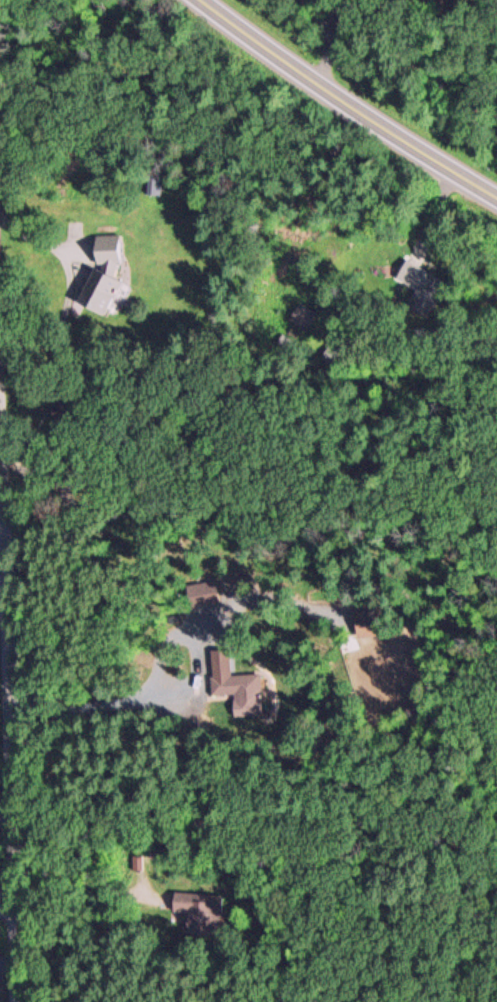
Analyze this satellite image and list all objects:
road: (353, 102)
building: (106, 250)
building: (419, 286)
building: (98, 290)
building: (200, 593)
building: (366, 622)
road: (7, 677)
building: (237, 689)
building: (199, 909)
road: (8, 910)

